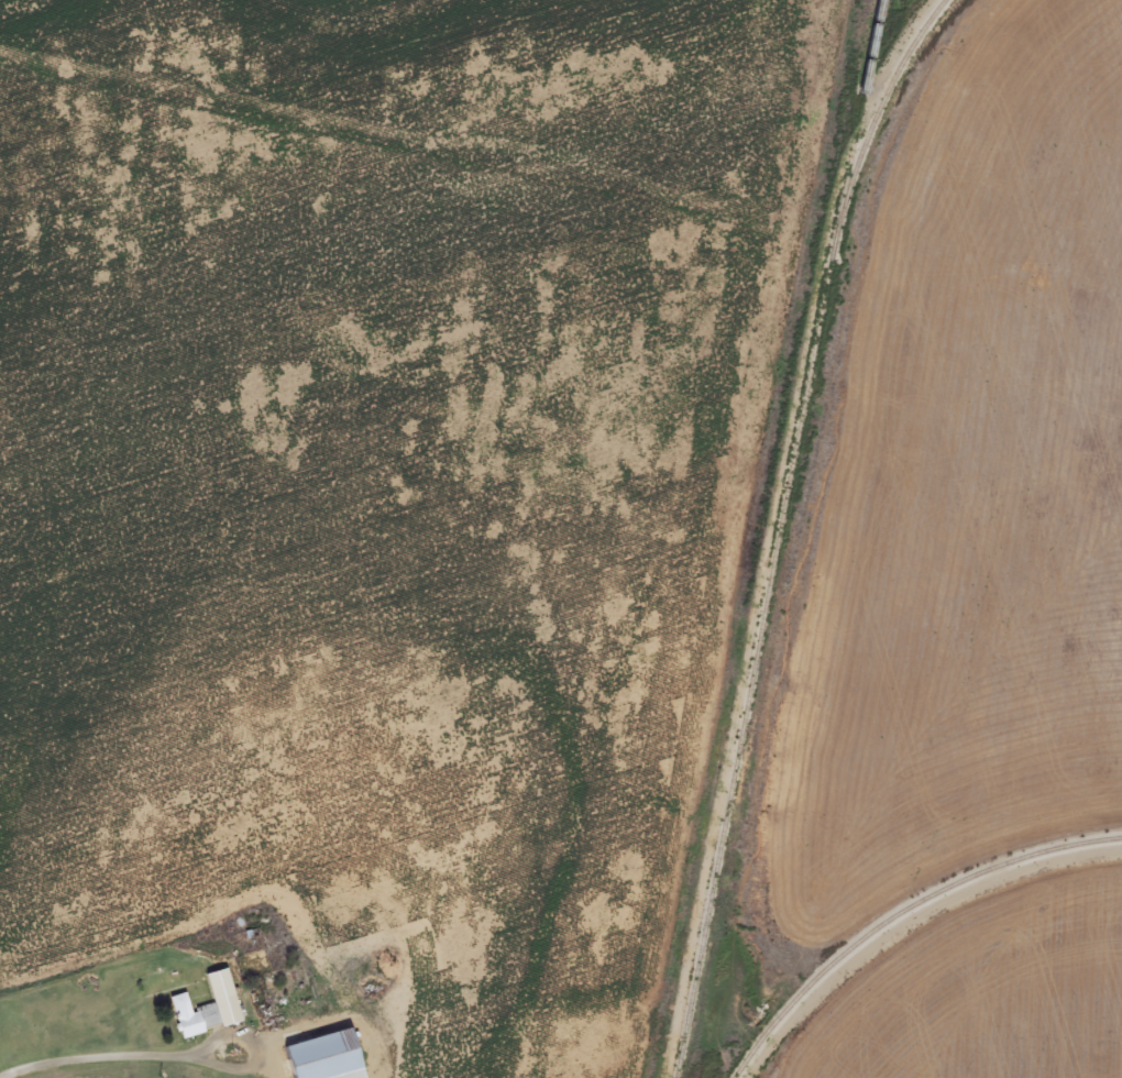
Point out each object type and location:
railway: (880, 106)
railway: (778, 539)
railway: (901, 914)
building: (218, 988)
building: (193, 1019)
building: (322, 1058)

